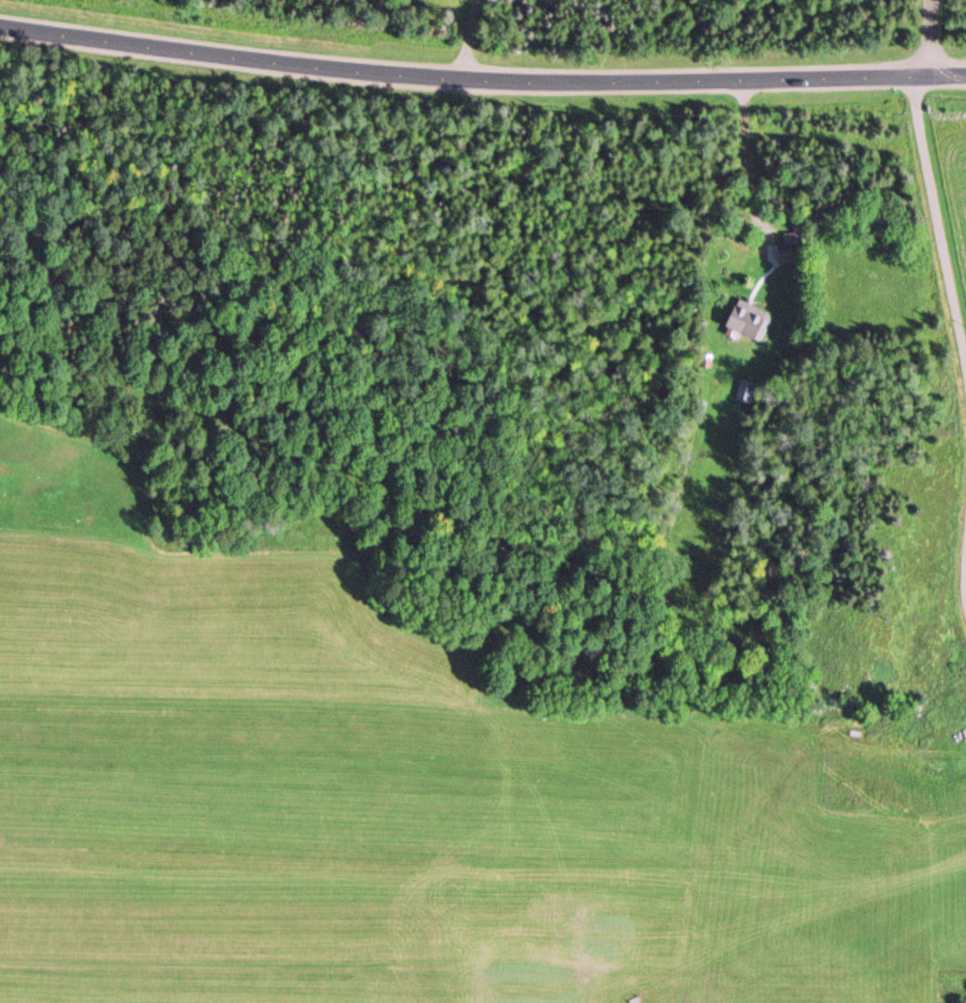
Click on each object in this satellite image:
road: (481, 80)
road: (937, 222)
building: (749, 320)

